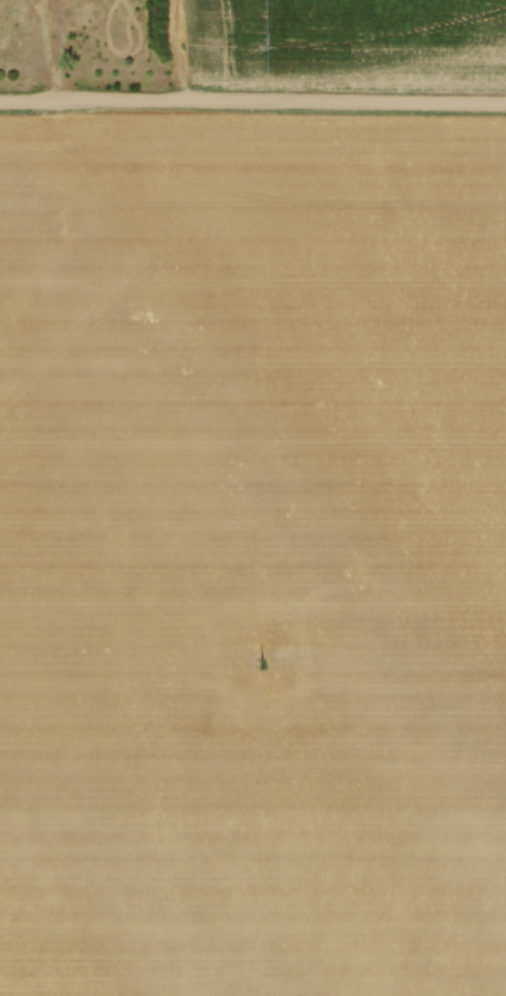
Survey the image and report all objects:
crop: (338, 43)
road: (61, 51)
road: (252, 104)
crop: (252, 556)
power tower: (261, 663)

